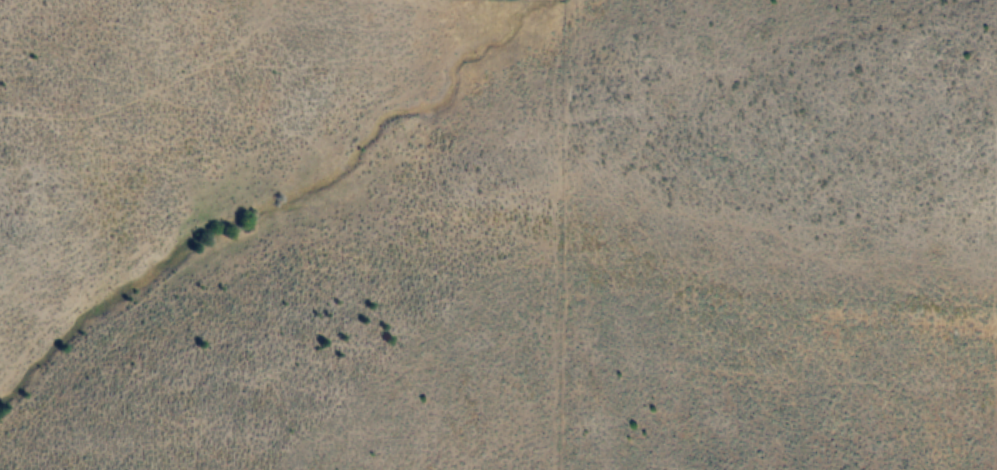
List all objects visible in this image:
road: (142, 95)

